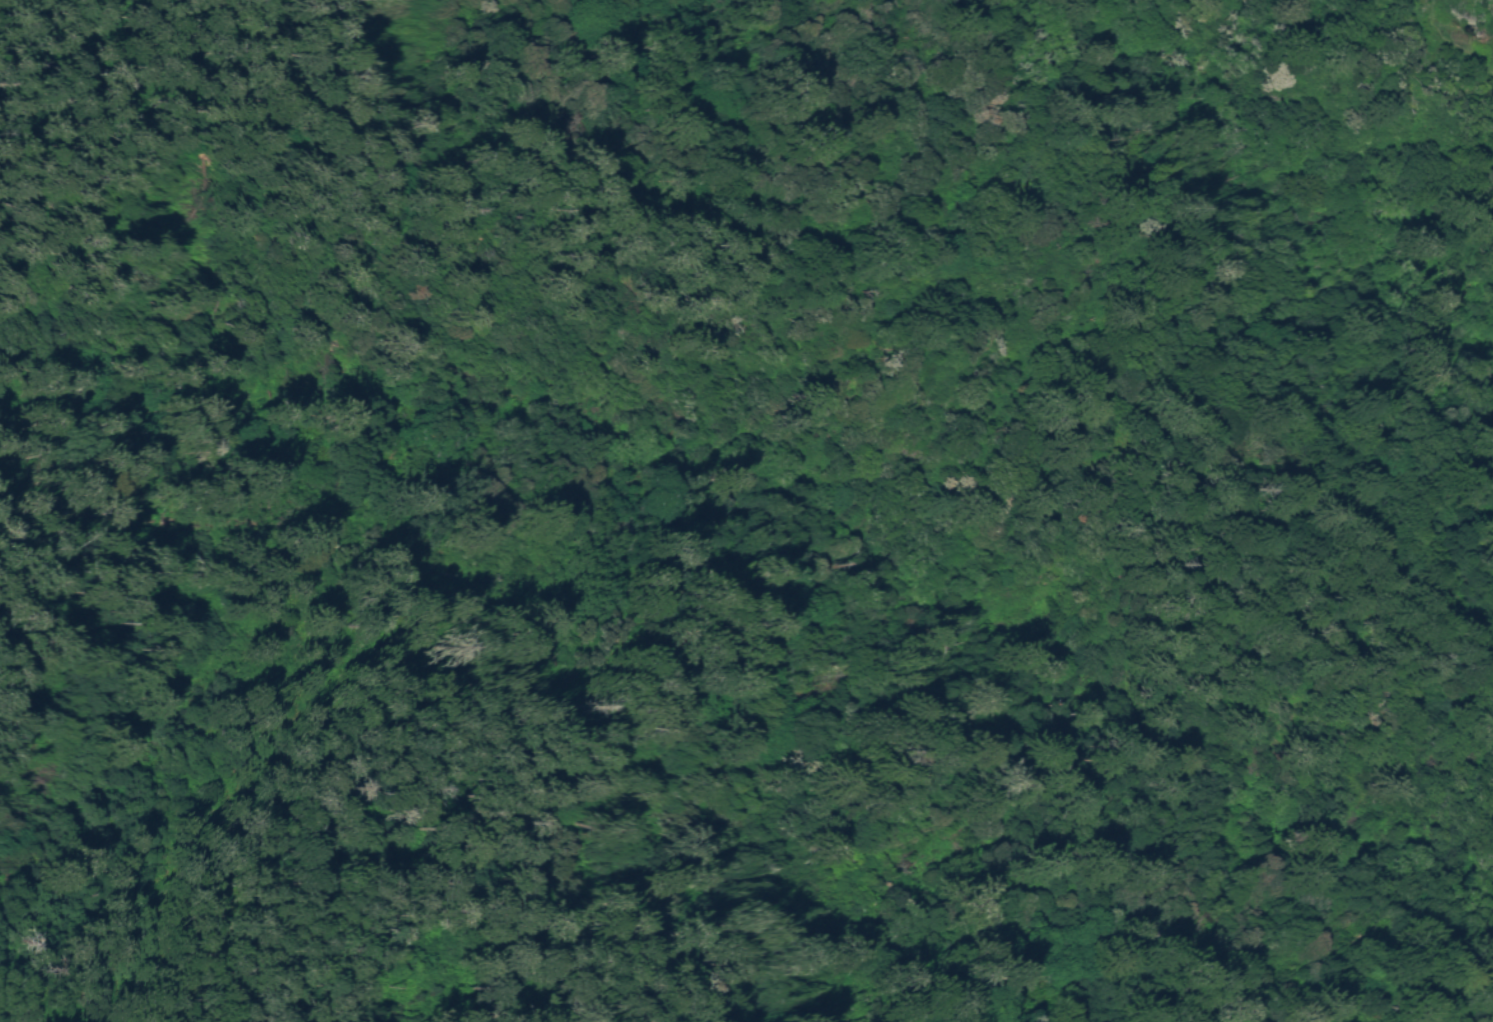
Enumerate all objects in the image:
road: (1455, 40)

